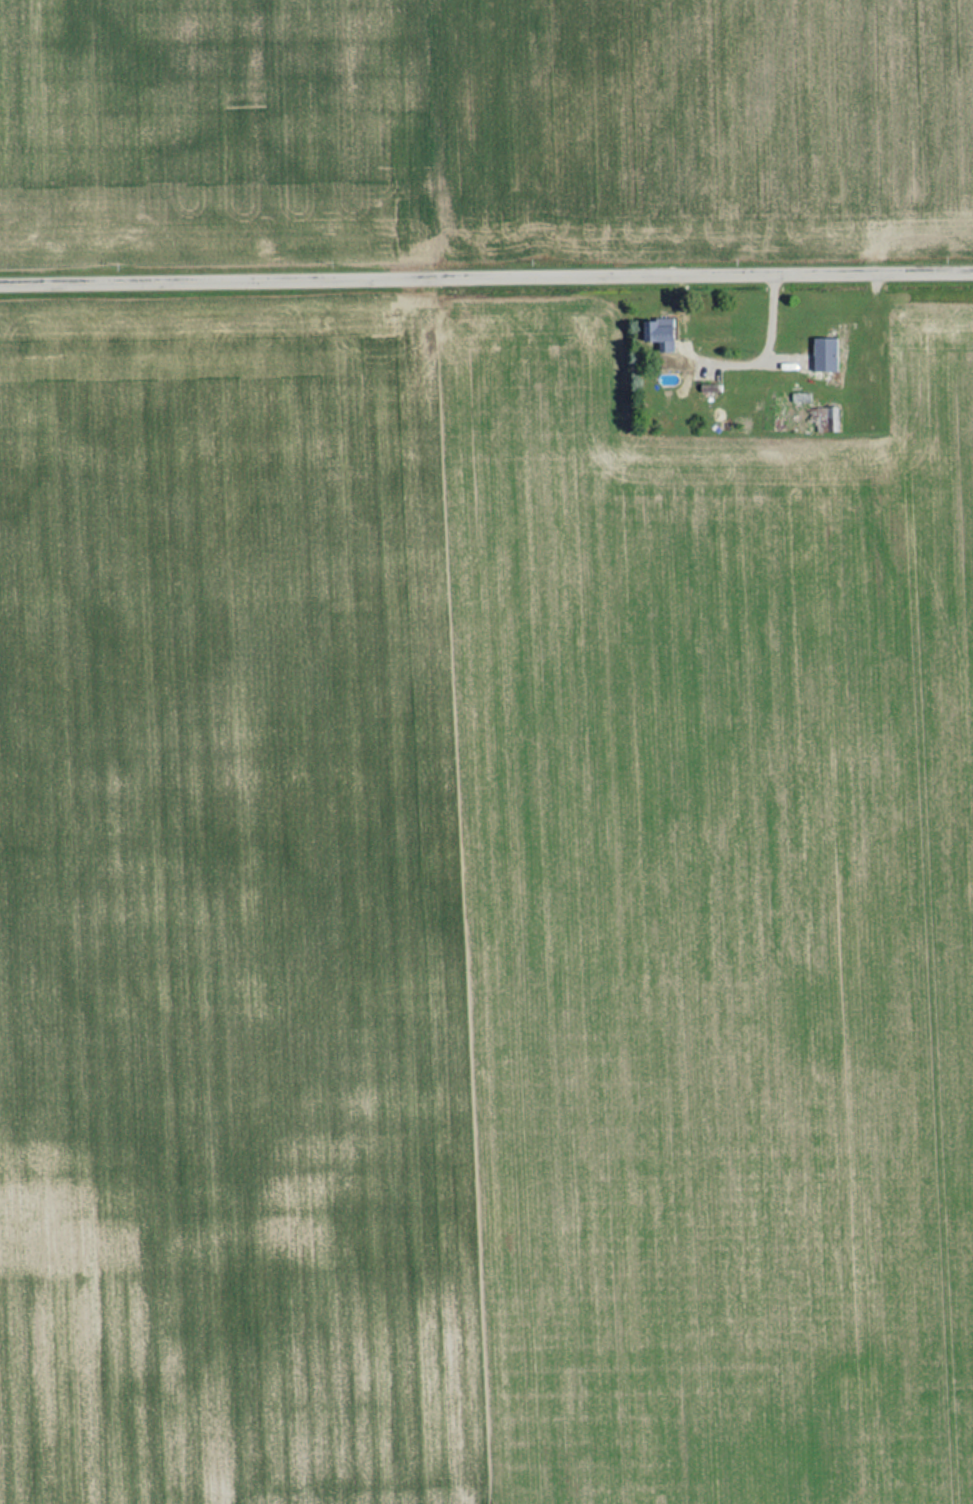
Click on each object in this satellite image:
crop: (482, 126)
road: (486, 272)
building: (654, 334)
building: (820, 354)
crop: (230, 922)
crop: (713, 929)

